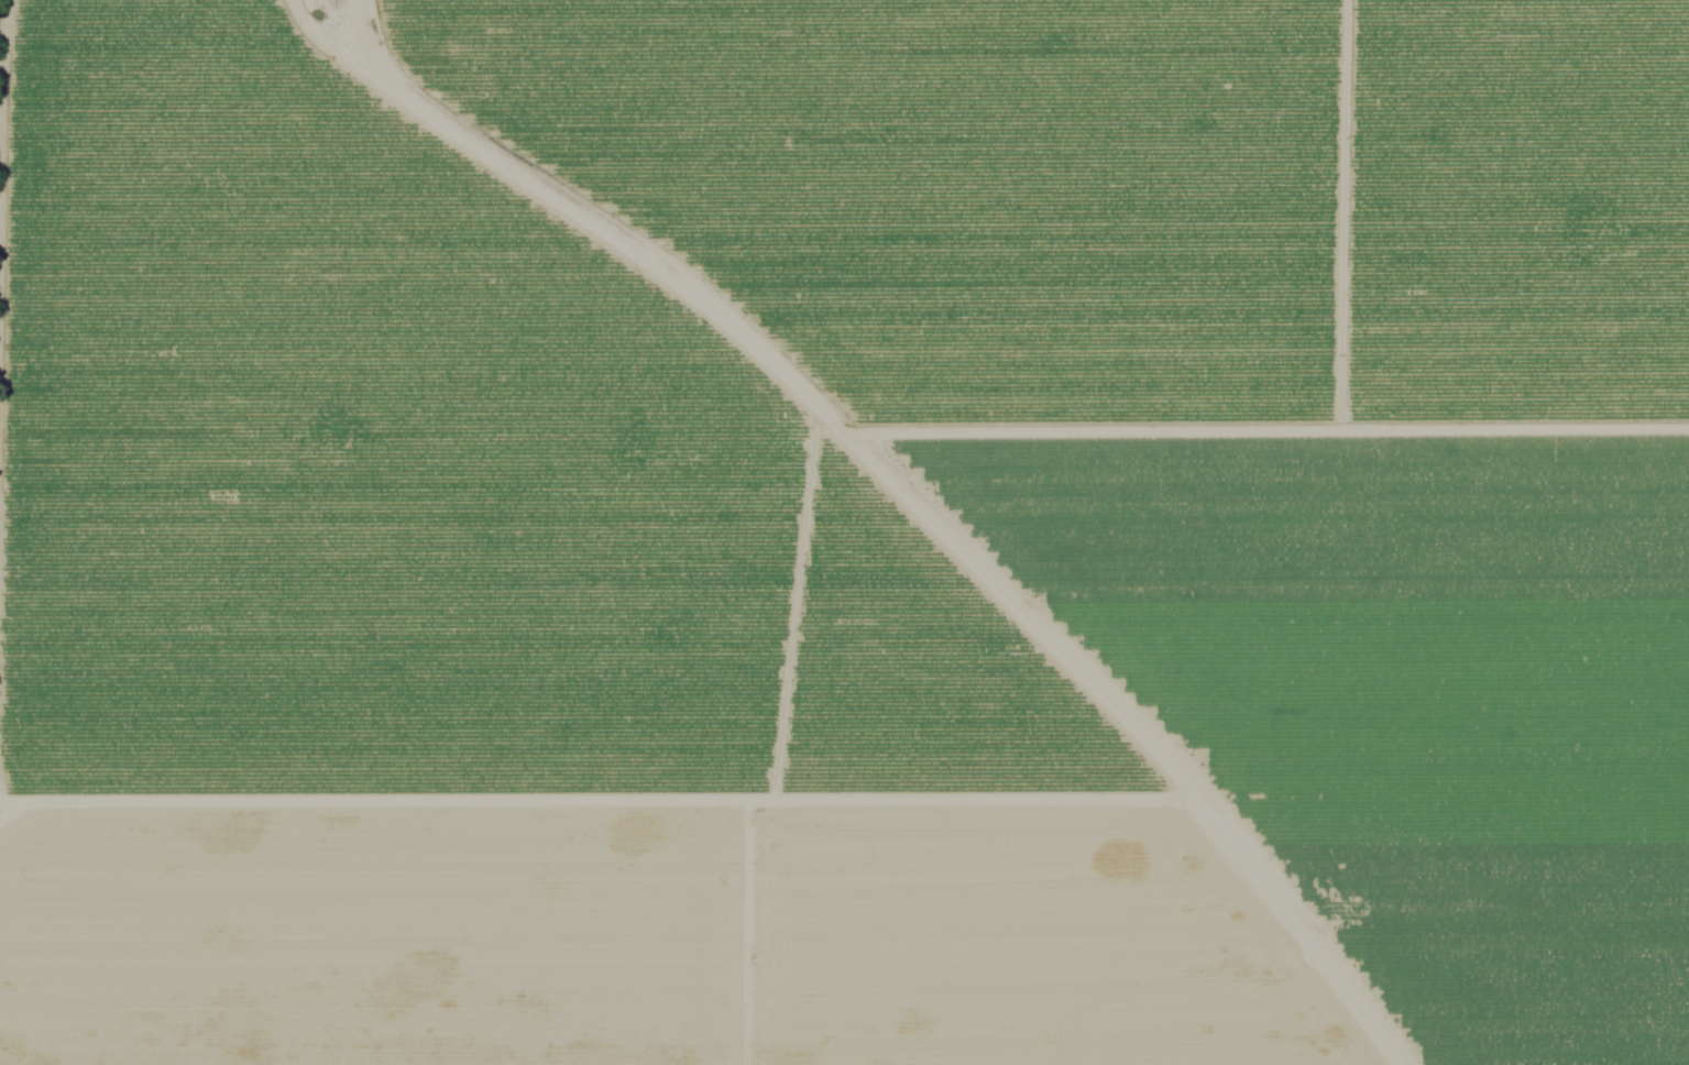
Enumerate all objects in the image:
crop: (439, 481)
crop: (1074, 561)

